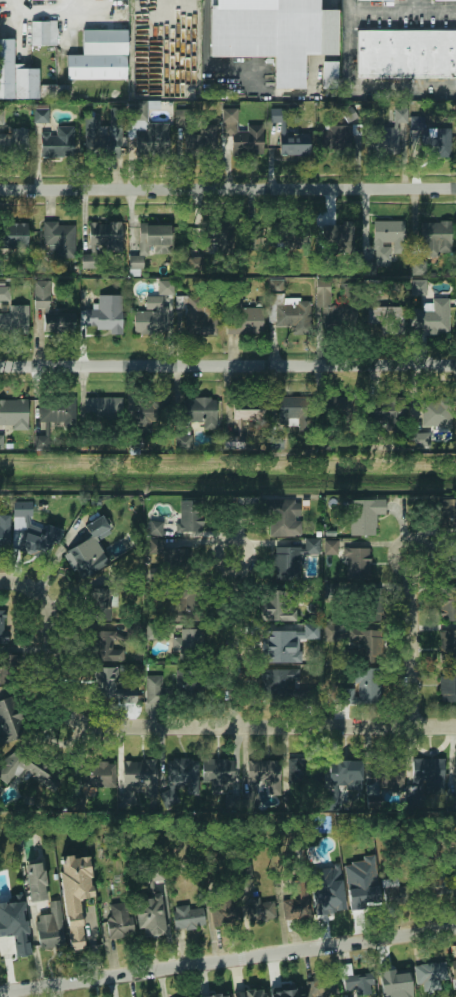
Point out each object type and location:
building: (33, 0)
building: (379, 0)
building: (442, 0)
road: (380, 10)
road: (429, 10)
road: (40, 13)
building: (43, 33)
building: (274, 35)
building: (405, 56)
building: (98, 57)
building: (328, 75)
building: (23, 79)
road: (358, 85)
building: (277, 114)
building: (349, 114)
building: (40, 115)
building: (0, 118)
building: (393, 132)
building: (239, 134)
building: (148, 136)
building: (102, 137)
building: (335, 140)
building: (14, 143)
building: (198, 143)
building: (293, 143)
building: (437, 143)
building: (56, 144)
building: (380, 144)
road: (228, 189)
building: (14, 235)
building: (216, 235)
building: (338, 237)
building: (436, 237)
building: (60, 238)
building: (100, 240)
building: (387, 240)
building: (151, 243)
building: (196, 262)
building: (418, 286)
building: (165, 287)
building: (5, 293)
building: (41, 294)
building: (288, 306)
building: (333, 307)
building: (106, 314)
building: (151, 317)
building: (391, 318)
building: (433, 318)
building: (15, 319)
building: (198, 319)
building: (245, 319)
road: (228, 366)
building: (96, 408)
building: (149, 410)
building: (291, 410)
building: (437, 412)
building: (14, 413)
building: (197, 413)
building: (391, 413)
building: (54, 417)
building: (244, 418)
building: (421, 439)
building: (1, 442)
building: (183, 442)
building: (22, 508)
building: (446, 513)
building: (190, 515)
building: (365, 515)
building: (282, 517)
building: (155, 527)
building: (4, 531)
building: (38, 542)
building: (330, 547)
building: (89, 550)
building: (168, 552)
building: (293, 558)
building: (357, 559)
building: (454, 564)
building: (329, 590)
building: (303, 591)
building: (99, 603)
building: (448, 603)
building: (374, 604)
building: (276, 605)
building: (181, 606)
building: (2, 626)
building: (330, 632)
road: (234, 640)
road: (412, 640)
building: (188, 641)
building: (368, 641)
building: (104, 642)
building: (285, 643)
building: (448, 645)
building: (13, 661)
building: (185, 682)
building: (276, 683)
building: (108, 685)
building: (368, 686)
building: (447, 686)
building: (152, 689)
building: (343, 696)
building: (10, 723)
road: (174, 726)
building: (24, 764)
building: (262, 771)
building: (185, 772)
building: (214, 772)
building: (306, 773)
building: (454, 773)
building: (97, 774)
building: (138, 774)
building: (344, 774)
building: (387, 774)
building: (428, 774)
building: (76, 802)
building: (243, 871)
building: (154, 874)
building: (455, 874)
building: (36, 882)
building: (361, 882)
building: (433, 887)
building: (327, 891)
building: (394, 893)
building: (75, 894)
building: (295, 908)
building: (259, 911)
building: (225, 913)
building: (150, 917)
building: (187, 918)
building: (118, 920)
building: (49, 928)
building: (13, 937)
road: (227, 958)
building: (453, 967)
building: (429, 973)
building: (394, 981)
building: (358, 984)
building: (317, 986)
building: (286, 991)
building: (249, 993)
building: (215, 996)
building: (225, 996)

